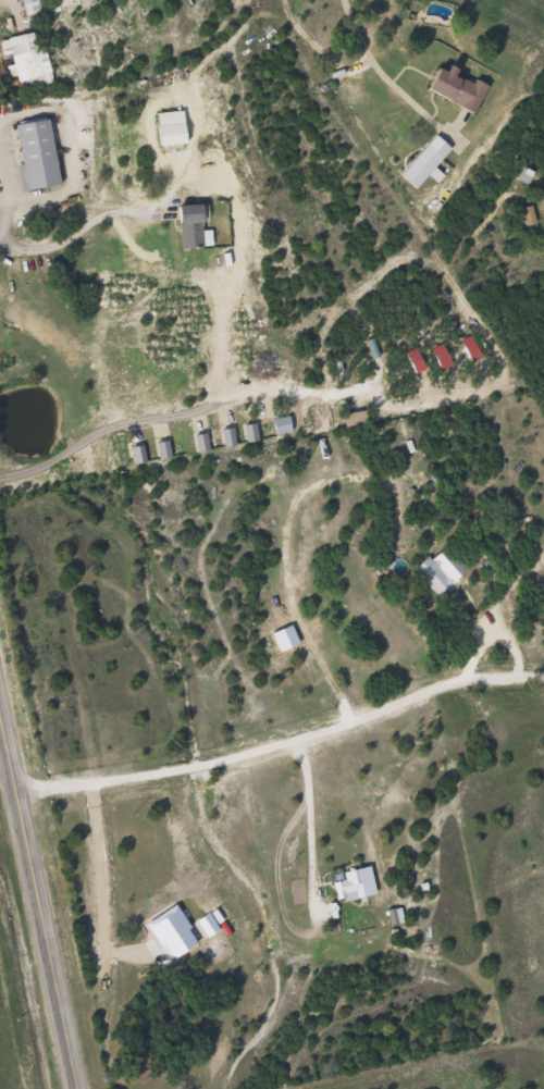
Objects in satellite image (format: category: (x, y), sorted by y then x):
building: (30, 58)
building: (460, 88)
building: (175, 131)
building: (40, 157)
building: (429, 162)
road: (3, 194)
building: (524, 215)
building: (196, 227)
road: (74, 233)
building: (543, 238)
building: (436, 571)
road: (282, 741)
building: (349, 883)
road: (36, 908)

